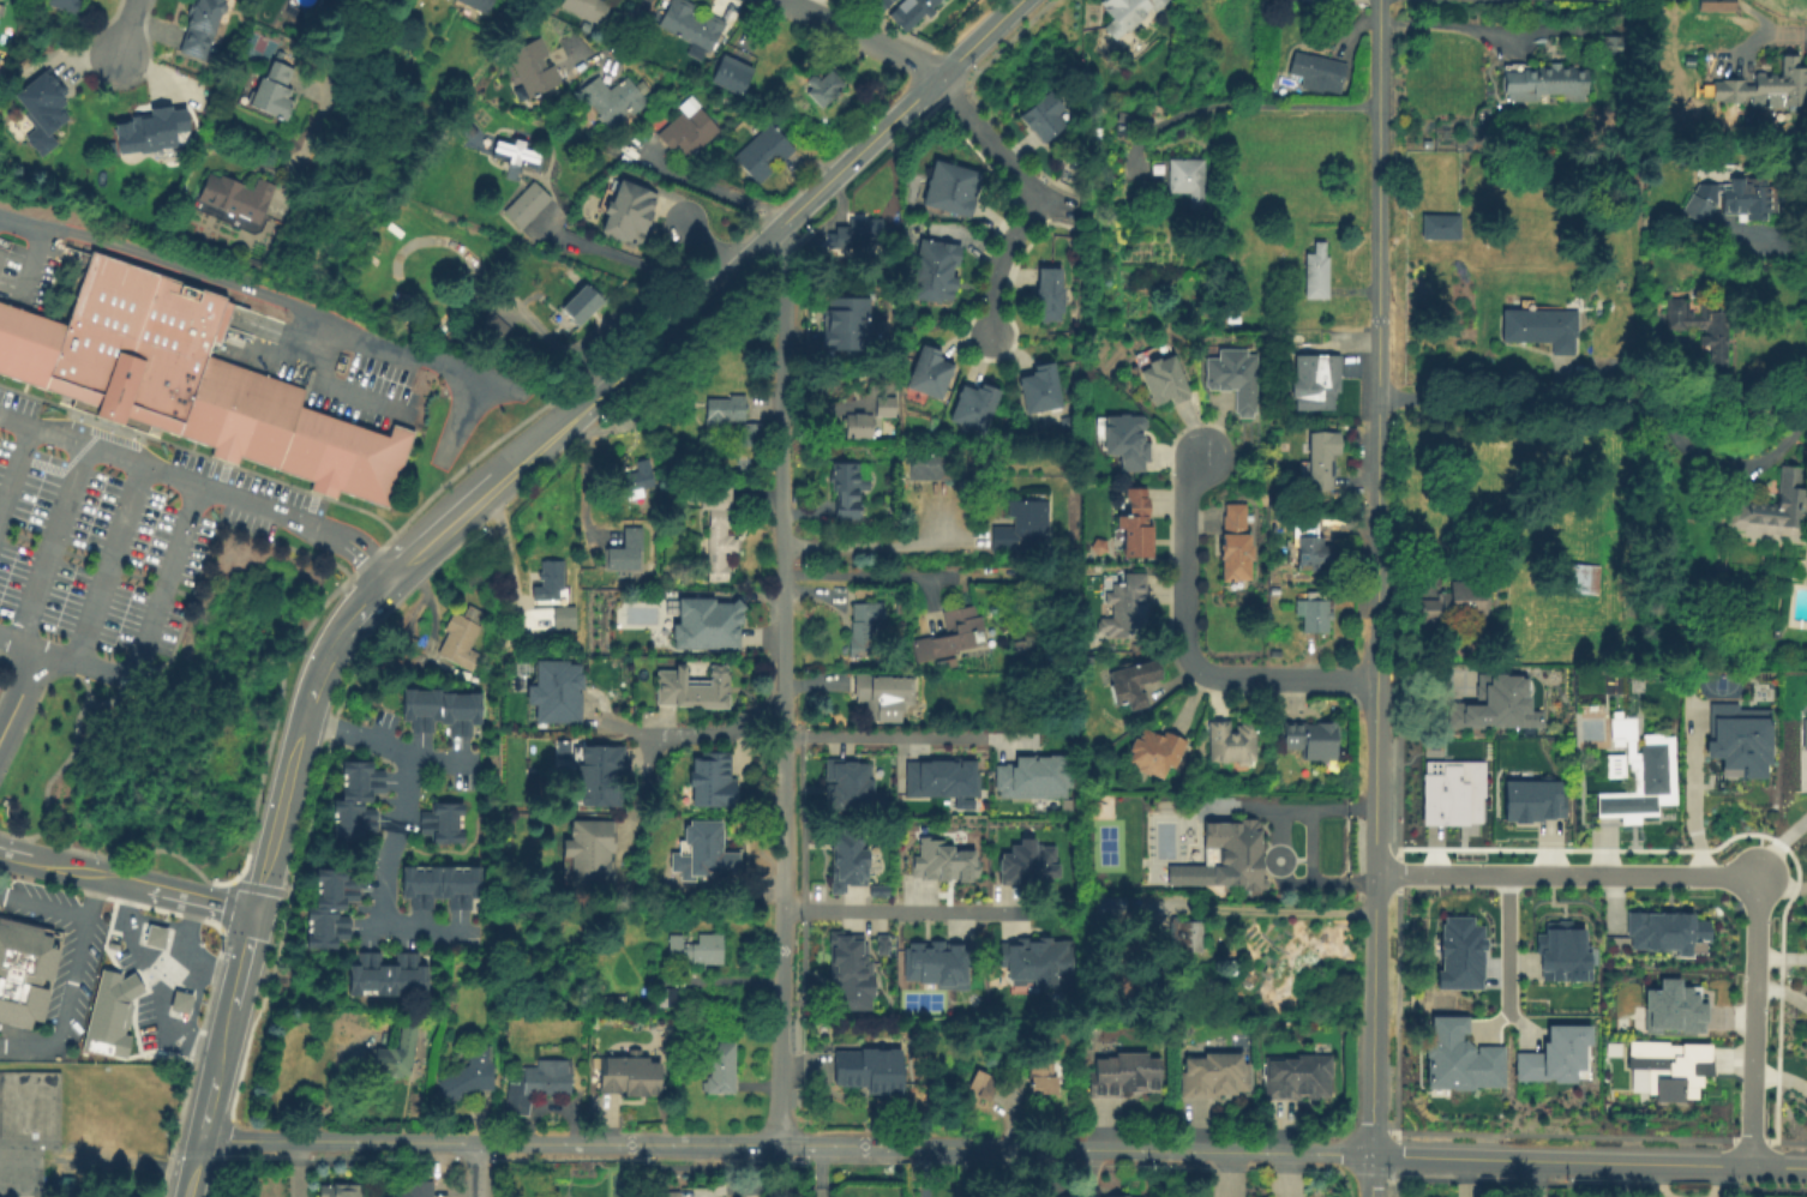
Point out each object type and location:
building: (64, 5)
building: (478, 5)
building: (1716, 5)
building: (1, 8)
building: (588, 8)
building: (911, 12)
building: (1129, 12)
road: (1445, 22)
building: (690, 24)
building: (202, 26)
road: (128, 28)
road: (1777, 31)
road: (859, 35)
road: (618, 44)
building: (1611, 44)
road: (607, 65)
building: (534, 68)
building: (1319, 72)
building: (732, 74)
building: (1547, 79)
building: (1275, 84)
road: (334, 85)
building: (1766, 86)
building: (824, 88)
building: (274, 91)
building: (613, 101)
road: (1251, 104)
building: (44, 112)
building: (1046, 118)
building: (689, 131)
building: (154, 132)
road: (987, 139)
building: (517, 152)
building: (762, 152)
building: (1179, 174)
road: (707, 185)
building: (954, 188)
building: (236, 197)
building: (1748, 198)
road: (804, 200)
building: (527, 204)
road: (1063, 204)
building: (1697, 209)
building: (629, 212)
building: (1440, 227)
building: (859, 231)
road: (1778, 237)
road: (626, 260)
road: (1002, 260)
building: (937, 271)
building: (1316, 272)
building: (1051, 295)
road: (263, 297)
building: (582, 303)
building: (5, 323)
building: (848, 325)
building: (1541, 325)
building: (1701, 325)
building: (493, 327)
road: (1375, 331)
building: (12, 342)
building: (136, 347)
building: (28, 349)
building: (47, 355)
building: (931, 373)
building: (1233, 378)
building: (1164, 380)
building: (1317, 384)
building: (1043, 390)
building: (209, 403)
road: (1591, 403)
building: (882, 405)
building: (975, 408)
building: (725, 410)
building: (236, 416)
road: (462, 416)
building: (270, 425)
building: (859, 425)
building: (752, 434)
road: (784, 439)
road: (542, 440)
building: (1127, 441)
building: (299, 444)
road: (100, 451)
building: (329, 458)
building: (1322, 458)
building: (745, 463)
building: (931, 464)
building: (362, 467)
building: (389, 468)
road: (16, 473)
building: (638, 477)
building: (847, 489)
road: (252, 503)
building: (1772, 507)
building: (715, 518)
building: (1136, 523)
parking lot: (113, 527)
road: (440, 527)
building: (1022, 528)
road: (349, 542)
road: (53, 543)
building: (1309, 543)
building: (1239, 547)
road: (864, 548)
building: (625, 551)
road: (205, 560)
road: (107, 561)
road: (866, 573)
building: (1580, 577)
building: (556, 596)
building: (1454, 602)
building: (1125, 608)
building: (1313, 612)
road: (356, 614)
building: (708, 626)
building: (866, 630)
building: (953, 636)
building: (462, 637)
road: (143, 642)
road: (1190, 645)
road: (320, 661)
building: (944, 664)
road: (1374, 673)
road: (66, 675)
building: (1131, 681)
road: (19, 686)
building: (692, 690)
road: (306, 692)
building: (554, 693)
building: (883, 697)
building: (1493, 703)
building: (442, 704)
building: (1803, 732)
road: (713, 735)
road: (900, 736)
road: (1373, 738)
building: (1735, 738)
building: (1314, 740)
building: (1231, 742)
road: (385, 745)
building: (559, 748)
building: (1159, 757)
building: (1638, 771)
building: (596, 776)
building: (1031, 776)
building: (939, 778)
building: (712, 781)
building: (846, 786)
road: (47, 787)
building: (1452, 789)
road: (1692, 798)
building: (1530, 799)
building: (358, 800)
building: (5, 802)
road: (1286, 811)
road: (275, 812)
building: (442, 822)
park: (1105, 844)
road: (1778, 847)
building: (589, 853)
building: (703, 854)
building: (1238, 855)
building: (846, 856)
building: (938, 860)
road: (49, 862)
building: (1027, 862)
road: (1310, 874)
road: (1706, 877)
road: (113, 878)
road: (389, 880)
building: (442, 886)
building: (876, 889)
road: (1784, 895)
road: (92, 896)
road: (190, 896)
road: (782, 897)
road: (125, 898)
building: (1113, 903)
road: (43, 908)
building: (331, 908)
road: (1277, 909)
traffic signals: (253, 910)
road: (901, 913)
road: (188, 916)
building: (1663, 931)
building: (1188, 934)
building: (155, 937)
building: (880, 943)
road: (181, 944)
building: (696, 950)
building: (1559, 951)
building: (1457, 952)
road: (241, 958)
road: (1508, 958)
building: (1032, 960)
building: (935, 962)
building: (845, 970)
building: (23, 972)
road: (1368, 973)
building: (388, 974)
building: (676, 997)
road: (152, 999)
building: (181, 1001)
building: (1671, 1006)
road: (65, 1009)
building: (125, 1009)
road: (1496, 1023)
road: (218, 1046)
building: (1550, 1053)
building: (397, 1054)
building: (1457, 1058)
building: (1668, 1065)
building: (721, 1069)
building: (1041, 1075)
building: (874, 1076)
building: (467, 1077)
building: (624, 1077)
building: (1127, 1082)
building: (1218, 1082)
building: (1299, 1083)
building: (981, 1084)
building: (535, 1085)
road: (203, 1111)
building: (30, 1136)
road: (782, 1143)
road: (1586, 1161)
road: (191, 1166)
road: (472, 1169)
road: (818, 1171)
road: (1365, 1174)
building: (418, 1190)
building: (341, 1192)
building: (664, 1193)
building: (1117, 1195)

